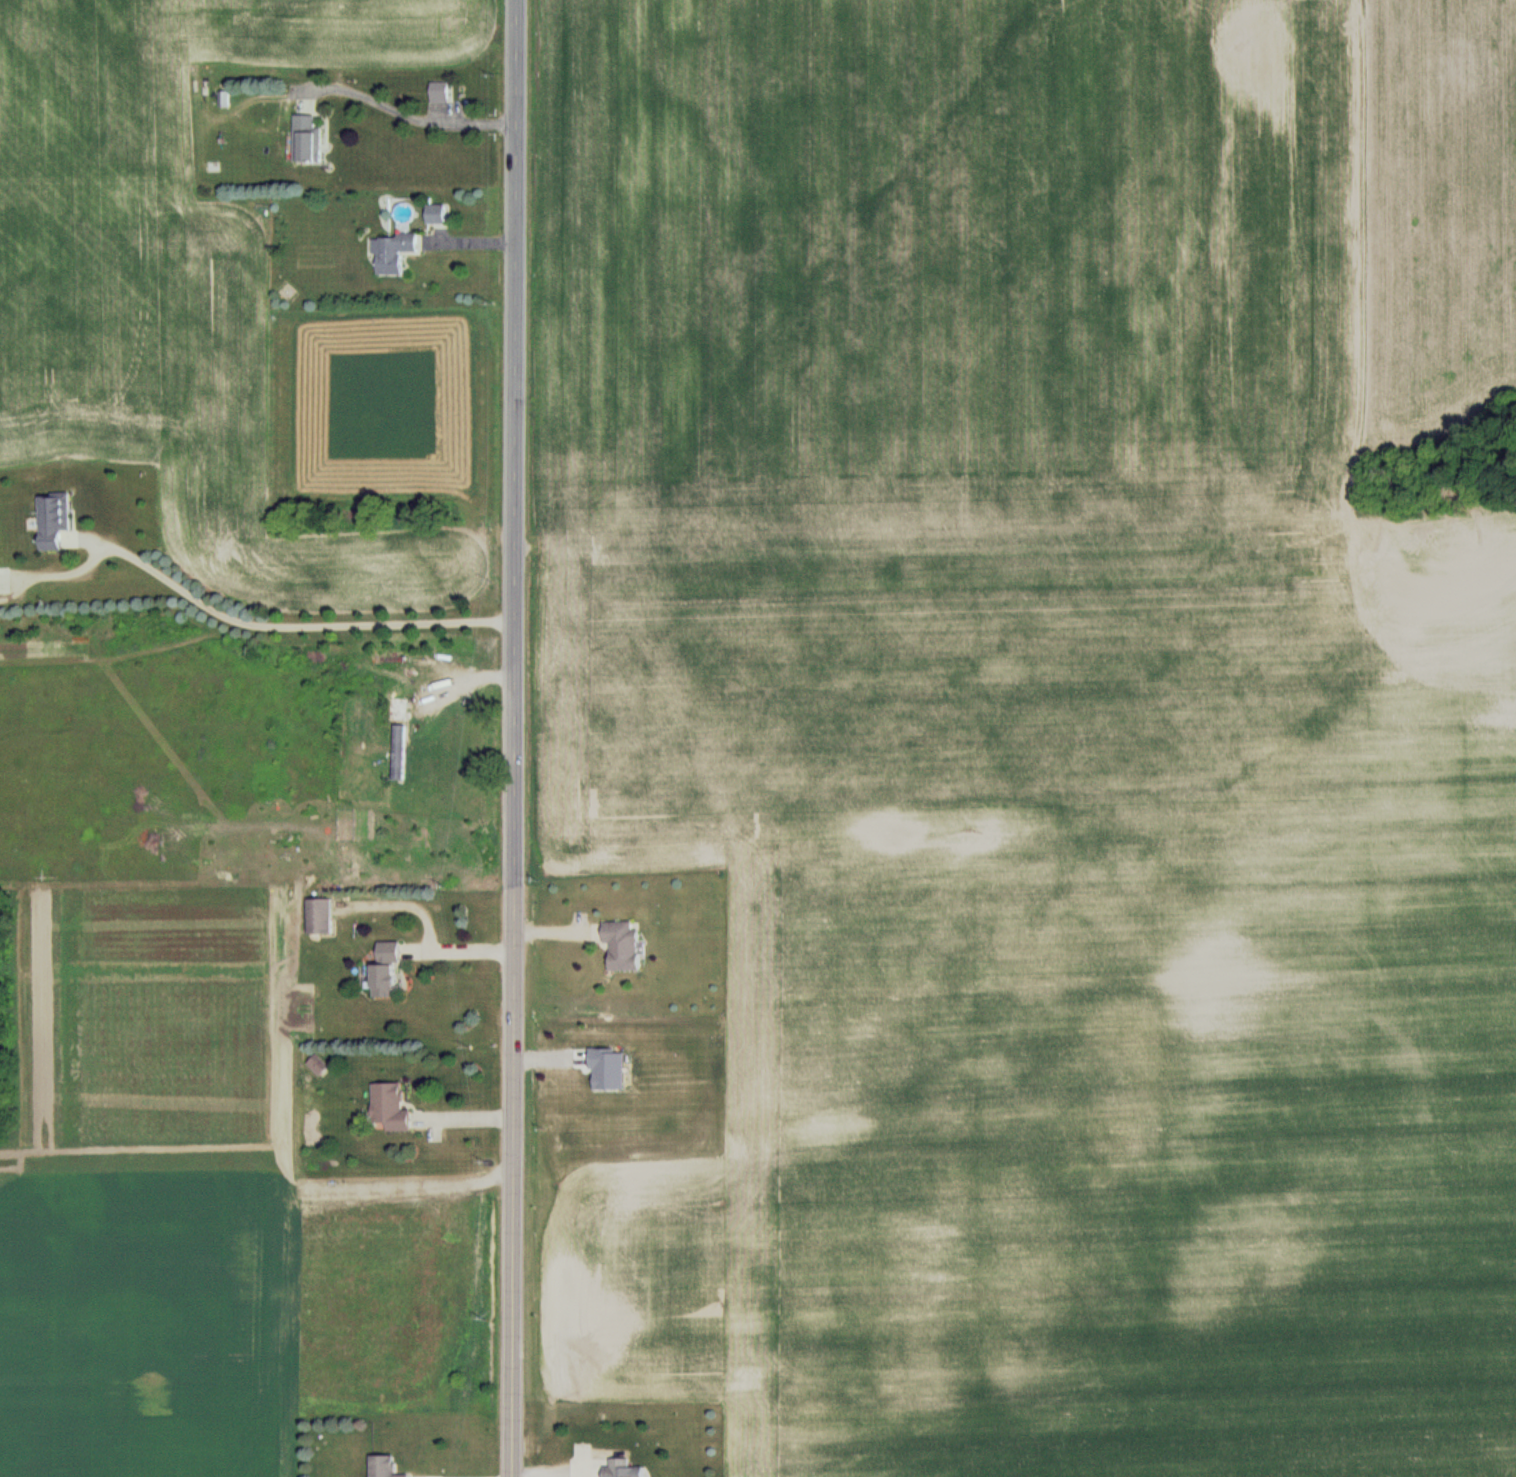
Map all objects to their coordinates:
building: (439, 92)
road: (407, 115)
building: (307, 138)
building: (394, 251)
road: (513, 438)
building: (52, 519)
road: (292, 623)
building: (397, 708)
building: (399, 751)
building: (319, 915)
road: (439, 934)
building: (628, 942)
building: (393, 951)
building: (387, 985)
building: (323, 1065)
building: (395, 1111)
road: (512, 1176)
building: (388, 1468)
building: (630, 1469)

